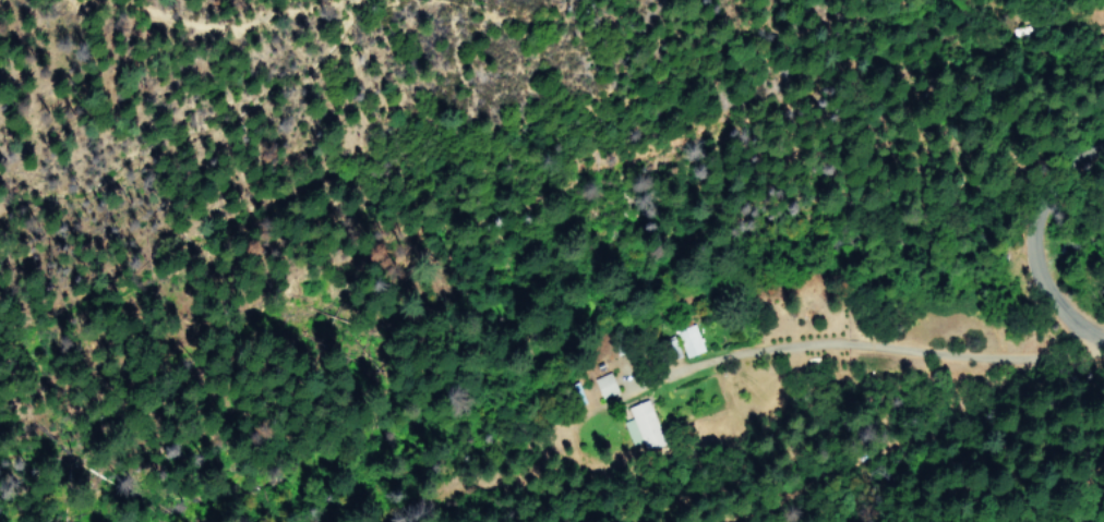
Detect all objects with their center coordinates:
road: (1033, 253)
building: (688, 340)
building: (641, 426)

